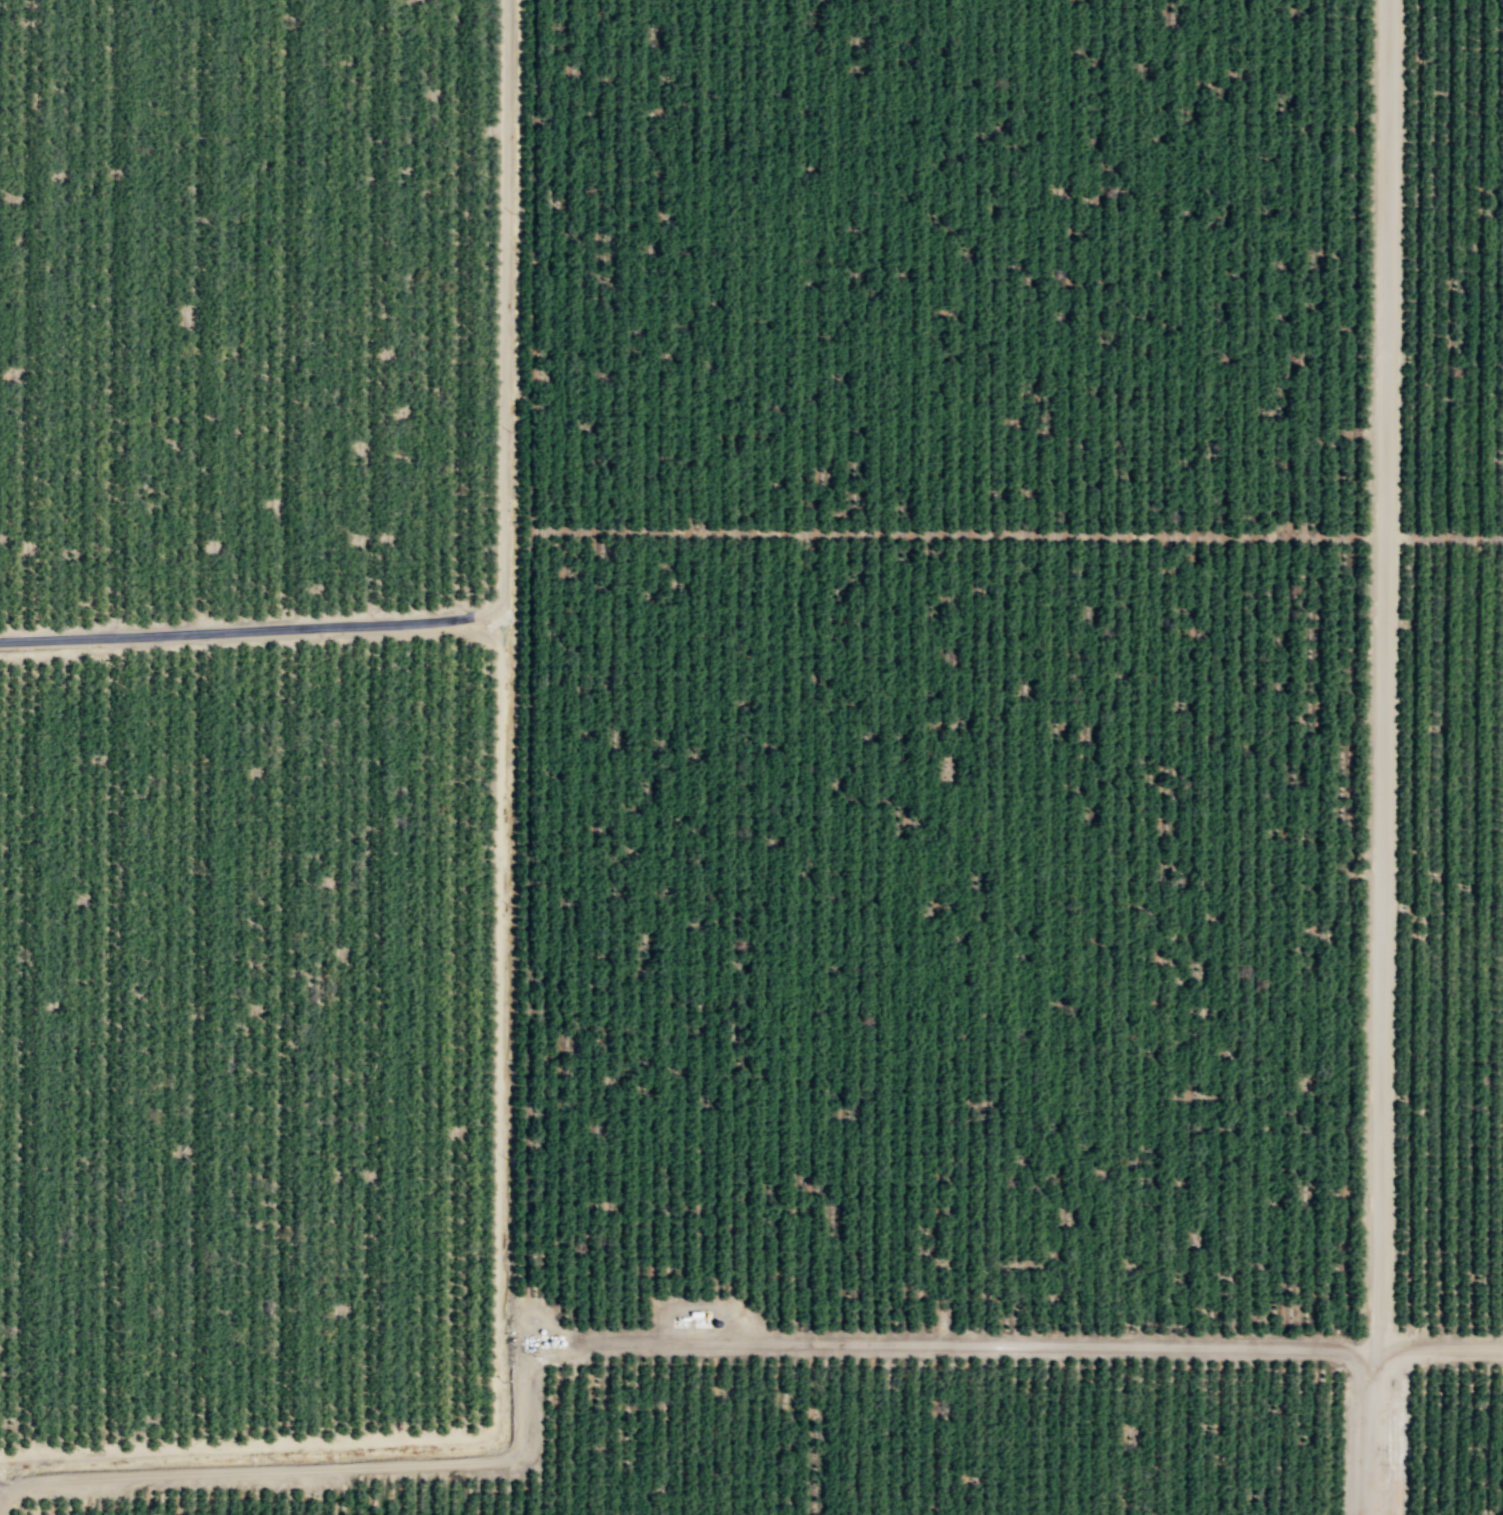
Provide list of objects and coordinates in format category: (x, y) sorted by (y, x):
road: (957, 533)
road: (1443, 535)
road: (503, 553)
road: (531, 655)
road: (518, 656)
road: (1380, 757)
road: (497, 1266)
road: (540, 1314)
road: (958, 1344)
road: (1434, 1348)
road: (1404, 1426)
road: (314, 1468)
road: (4, 1494)

